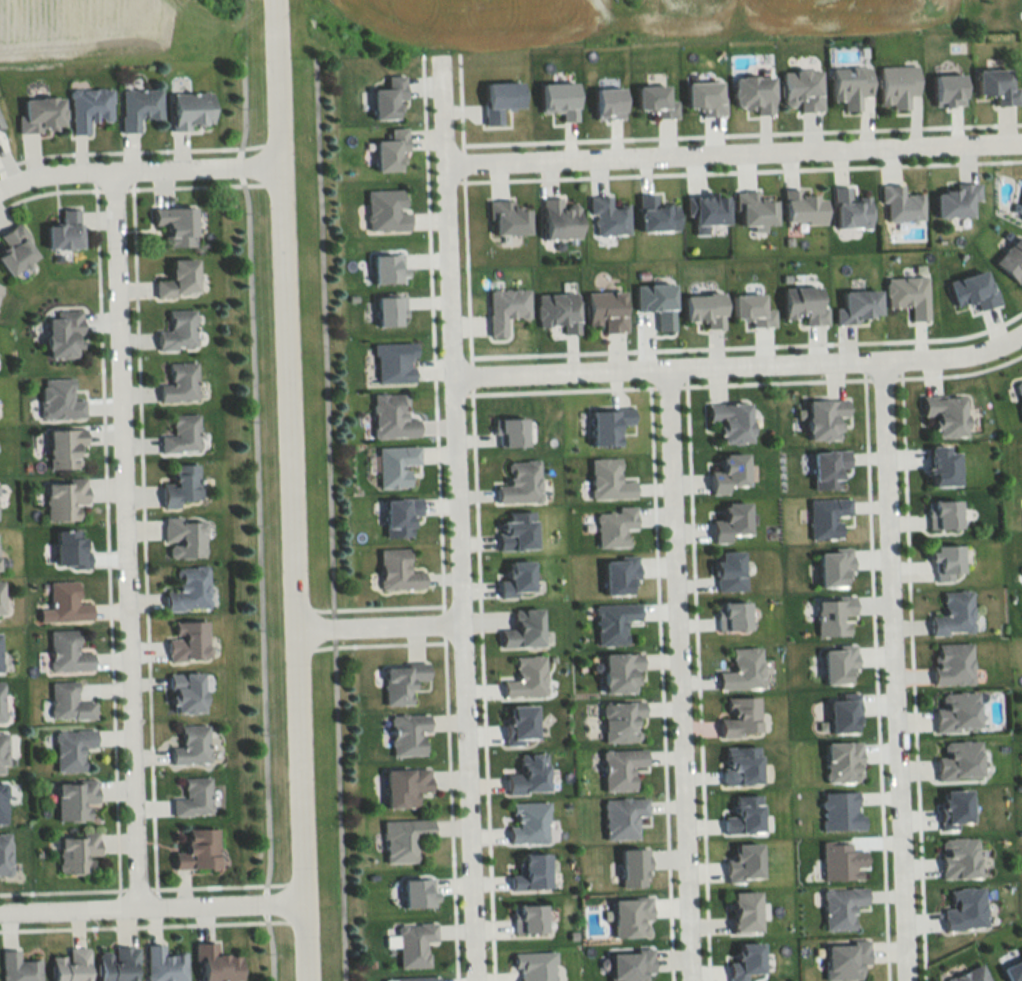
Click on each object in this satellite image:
crop: (794, 15)
crop: (483, 21)
crop: (82, 28)
building: (848, 85)
building: (895, 85)
building: (994, 86)
building: (800, 89)
building: (946, 90)
building: (752, 93)
building: (386, 98)
building: (703, 98)
building: (498, 100)
building: (558, 100)
road: (458, 101)
building: (654, 101)
building: (606, 103)
building: (90, 108)
building: (140, 108)
building: (192, 110)
building: (42, 114)
building: (0, 123)
road: (740, 132)
road: (732, 149)
building: (388, 150)
road: (461, 163)
road: (137, 169)
road: (738, 170)
building: (1021, 190)
building: (954, 200)
building: (900, 204)
building: (800, 207)
building: (753, 209)
building: (849, 209)
building: (383, 210)
building: (705, 211)
building: (1021, 211)
building: (654, 215)
building: (608, 216)
building: (505, 218)
building: (558, 220)
building: (177, 225)
building: (66, 230)
building: (1004, 234)
building: (16, 249)
building: (1010, 259)
building: (385, 268)
road: (464, 270)
building: (180, 279)
building: (0, 286)
building: (970, 290)
building: (906, 294)
building: (655, 303)
building: (801, 305)
building: (854, 306)
building: (504, 308)
building: (387, 309)
building: (702, 309)
building: (556, 310)
building: (604, 310)
building: (750, 310)
building: (179, 331)
road: (431, 331)
building: (64, 334)
road: (321, 337)
road: (747, 345)
building: (391, 358)
road: (739, 365)
road: (959, 373)
road: (469, 375)
road: (881, 378)
road: (774, 381)
building: (180, 383)
road: (666, 385)
road: (560, 389)
building: (1018, 395)
building: (60, 400)
building: (942, 412)
building: (389, 414)
building: (822, 414)
building: (729, 417)
building: (605, 424)
building: (508, 429)
building: (182, 434)
building: (67, 448)
building: (393, 463)
building: (939, 463)
building: (825, 465)
building: (730, 470)
building: (606, 478)
building: (518, 480)
building: (181, 485)
road: (287, 490)
building: (65, 498)
building: (940, 511)
building: (397, 512)
building: (824, 514)
building: (729, 518)
road: (458, 519)
building: (614, 524)
building: (514, 529)
road: (125, 537)
building: (185, 538)
building: (71, 548)
building: (943, 559)
building: (831, 563)
building: (395, 568)
building: (727, 568)
building: (617, 572)
building: (514, 576)
building: (190, 590)
building: (0, 598)
building: (67, 603)
road: (375, 607)
building: (730, 612)
building: (951, 612)
building: (831, 614)
building: (612, 620)
road: (376, 623)
road: (442, 623)
road: (332, 627)
building: (522, 627)
building: (189, 641)
road: (377, 643)
building: (68, 652)
building: (0, 657)
building: (834, 661)
building: (950, 662)
building: (618, 667)
building: (740, 668)
road: (892, 670)
road: (676, 674)
building: (525, 676)
road: (910, 676)
road: (873, 677)
road: (696, 679)
building: (398, 681)
road: (481, 683)
road: (659, 683)
building: (187, 692)
building: (1, 702)
building: (69, 703)
building: (953, 709)
building: (839, 711)
building: (737, 713)
building: (618, 718)
building: (517, 720)
building: (406, 732)
building: (192, 745)
building: (72, 749)
building: (3, 753)
building: (955, 758)
building: (838, 759)
building: (737, 763)
building: (618, 765)
building: (526, 772)
building: (403, 784)
building: (194, 798)
building: (75, 800)
building: (3, 804)
building: (949, 805)
road: (449, 808)
road: (338, 809)
building: (836, 810)
building: (741, 813)
building: (620, 814)
building: (526, 820)
building: (401, 838)
building: (199, 851)
building: (78, 853)
building: (4, 855)
building: (955, 855)
building: (838, 859)
building: (740, 860)
building: (631, 864)
building: (528, 870)
building: (415, 891)
road: (150, 903)
building: (837, 905)
building: (961, 907)
building: (745, 911)
building: (628, 914)
building: (526, 916)
building: (412, 942)
building: (842, 957)
building: (742, 959)
building: (117, 964)
building: (164, 964)
building: (533, 964)
building: (628, 964)
building: (71, 965)
building: (217, 965)
building: (18, 968)
building: (1011, 969)
building: (966, 974)
building: (415, 978)

